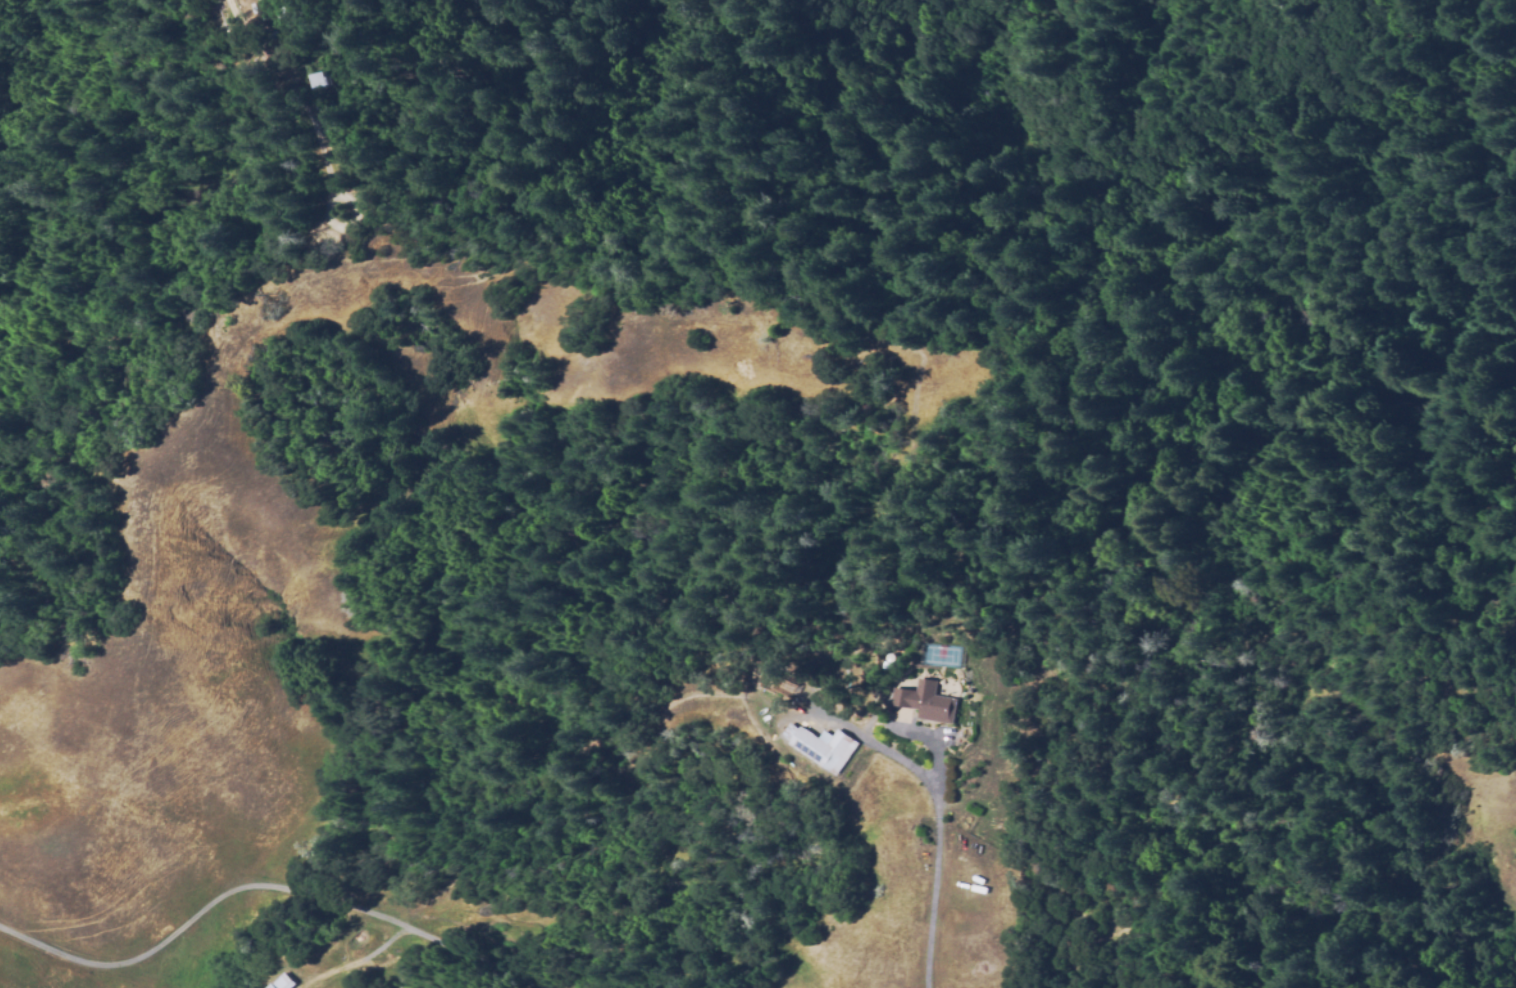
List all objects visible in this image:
building: (321, 81)
building: (310, 92)
building: (781, 685)
building: (925, 705)
building: (821, 747)
road: (937, 871)
building: (280, 982)

